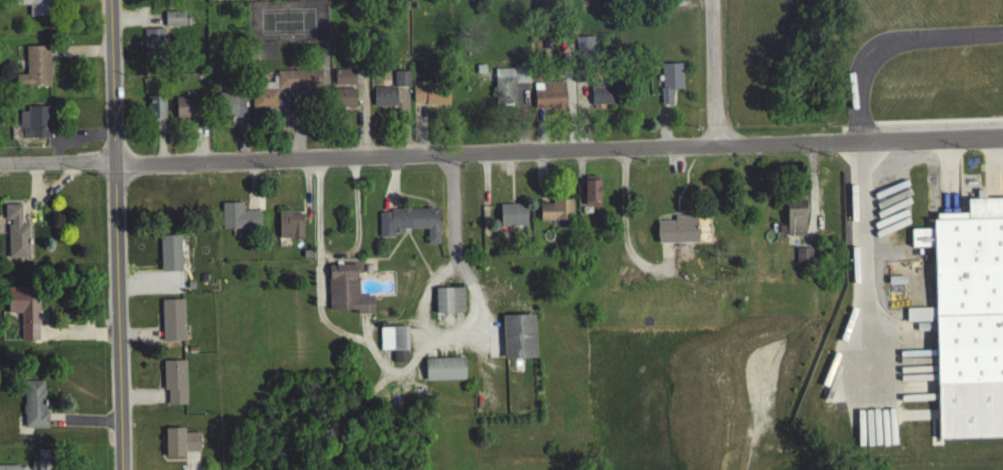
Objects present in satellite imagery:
building: (34, 8)
building: (174, 22)
road: (889, 36)
building: (153, 48)
building: (585, 50)
building: (35, 71)
road: (715, 72)
building: (345, 78)
building: (401, 82)
building: (669, 84)
building: (511, 90)
building: (283, 91)
building: (600, 96)
building: (431, 98)
building: (549, 98)
building: (384, 99)
building: (343, 101)
building: (230, 107)
building: (186, 111)
building: (35, 126)
road: (501, 151)
building: (591, 196)
building: (555, 213)
building: (512, 218)
building: (238, 220)
building: (795, 221)
building: (409, 226)
building: (289, 228)
building: (677, 234)
road: (116, 235)
building: (16, 236)
road: (868, 249)
building: (170, 257)
building: (803, 259)
building: (966, 290)
building: (346, 293)
building: (449, 304)
building: (24, 313)
building: (172, 323)
building: (518, 340)
building: (394, 345)
building: (444, 372)
road: (402, 374)
building: (174, 385)
building: (34, 407)
building: (180, 446)
building: (37, 467)

